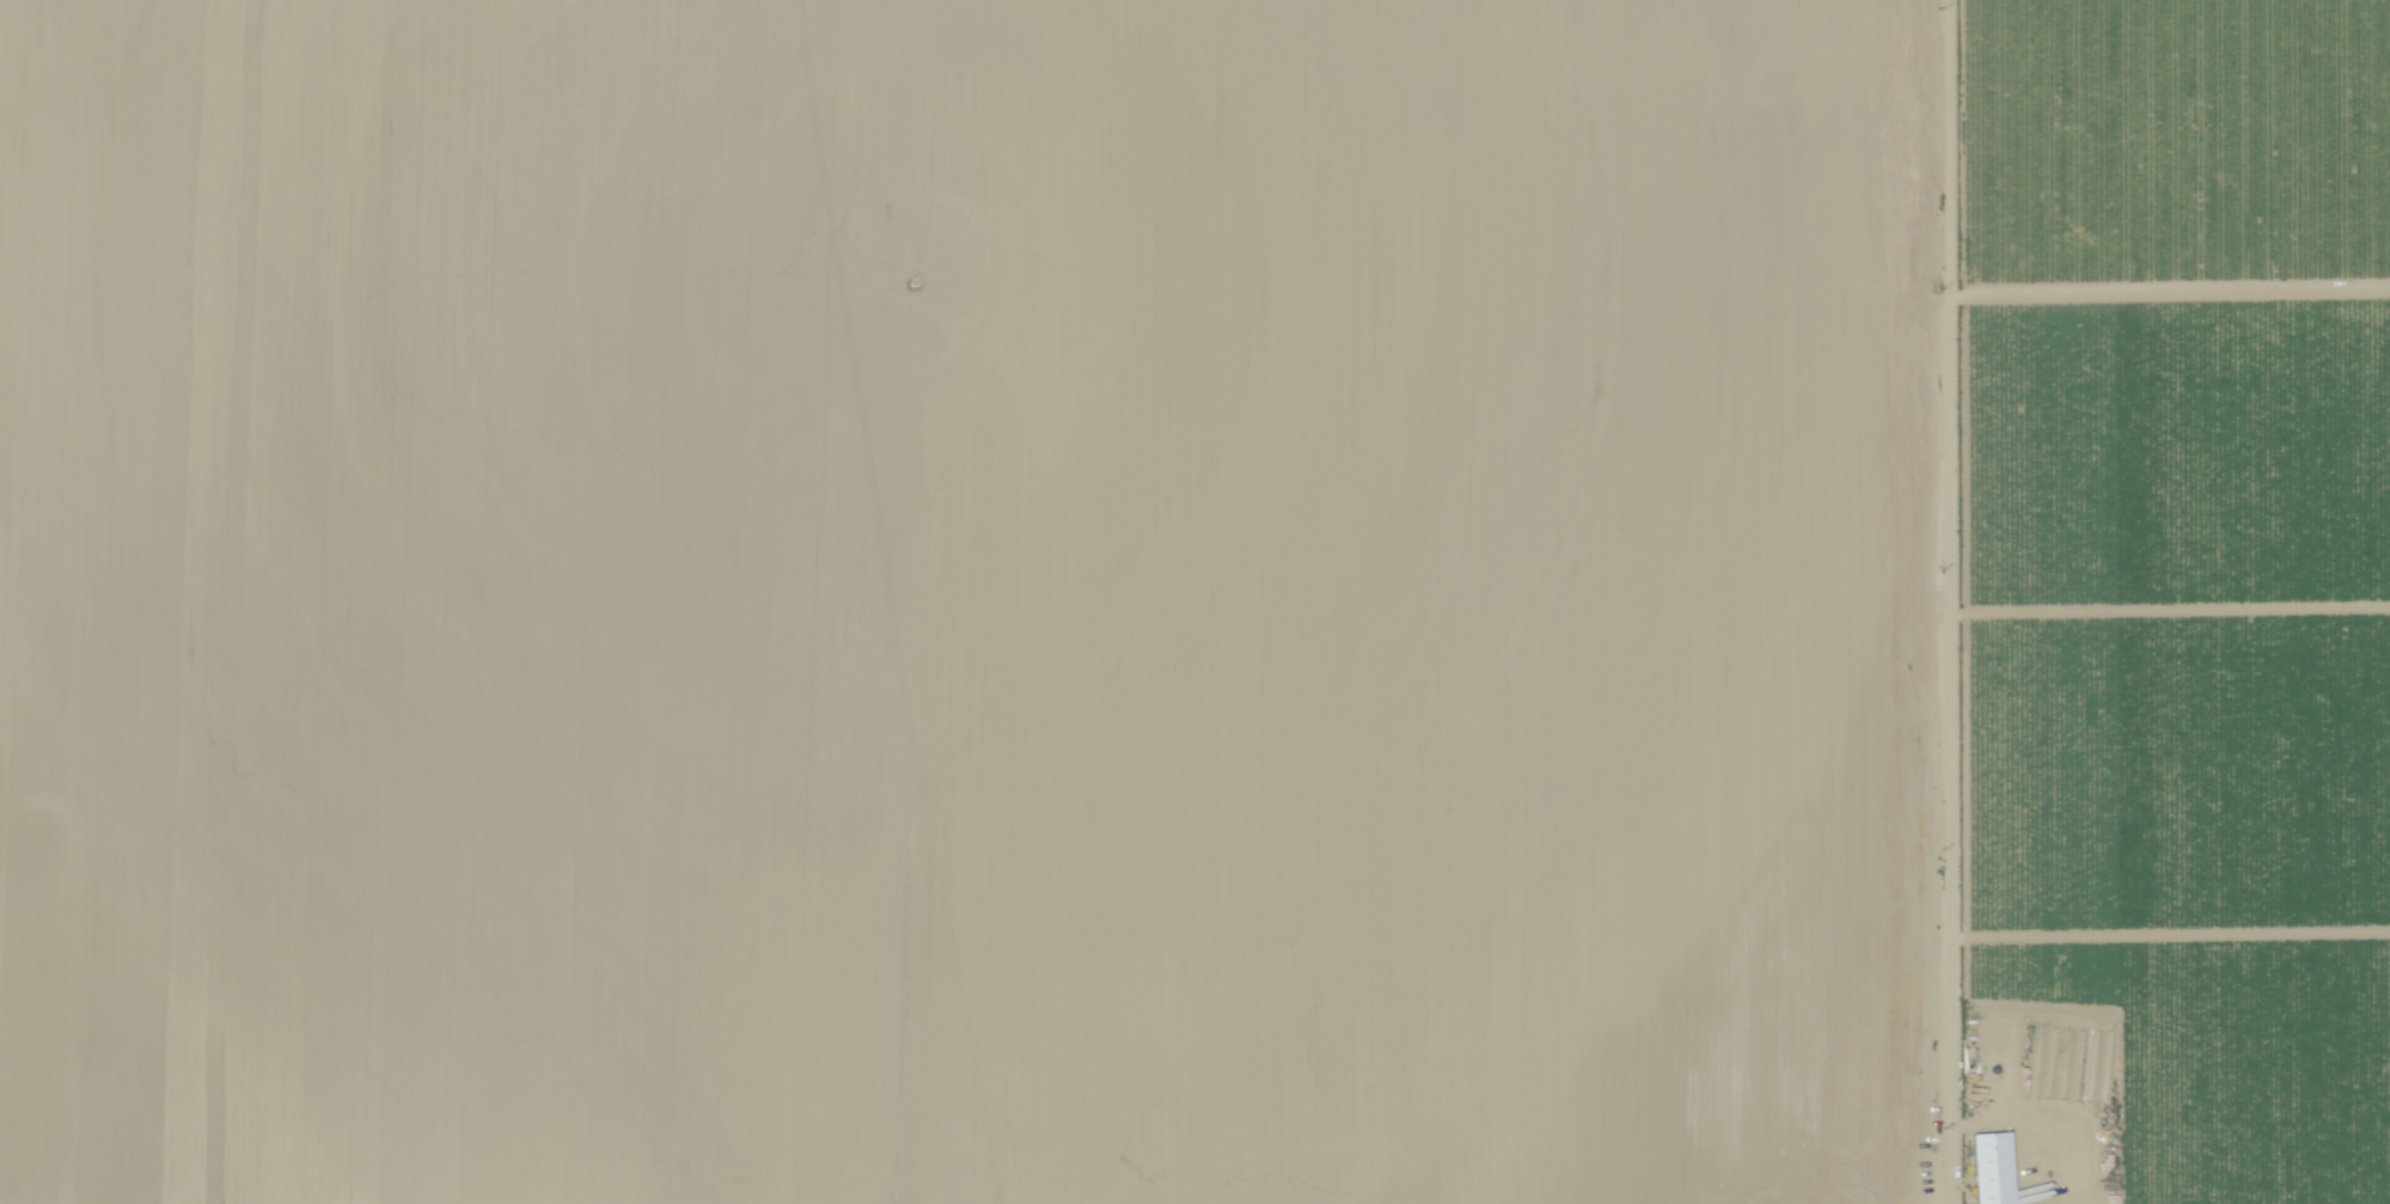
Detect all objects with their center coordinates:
road: (1955, 601)

